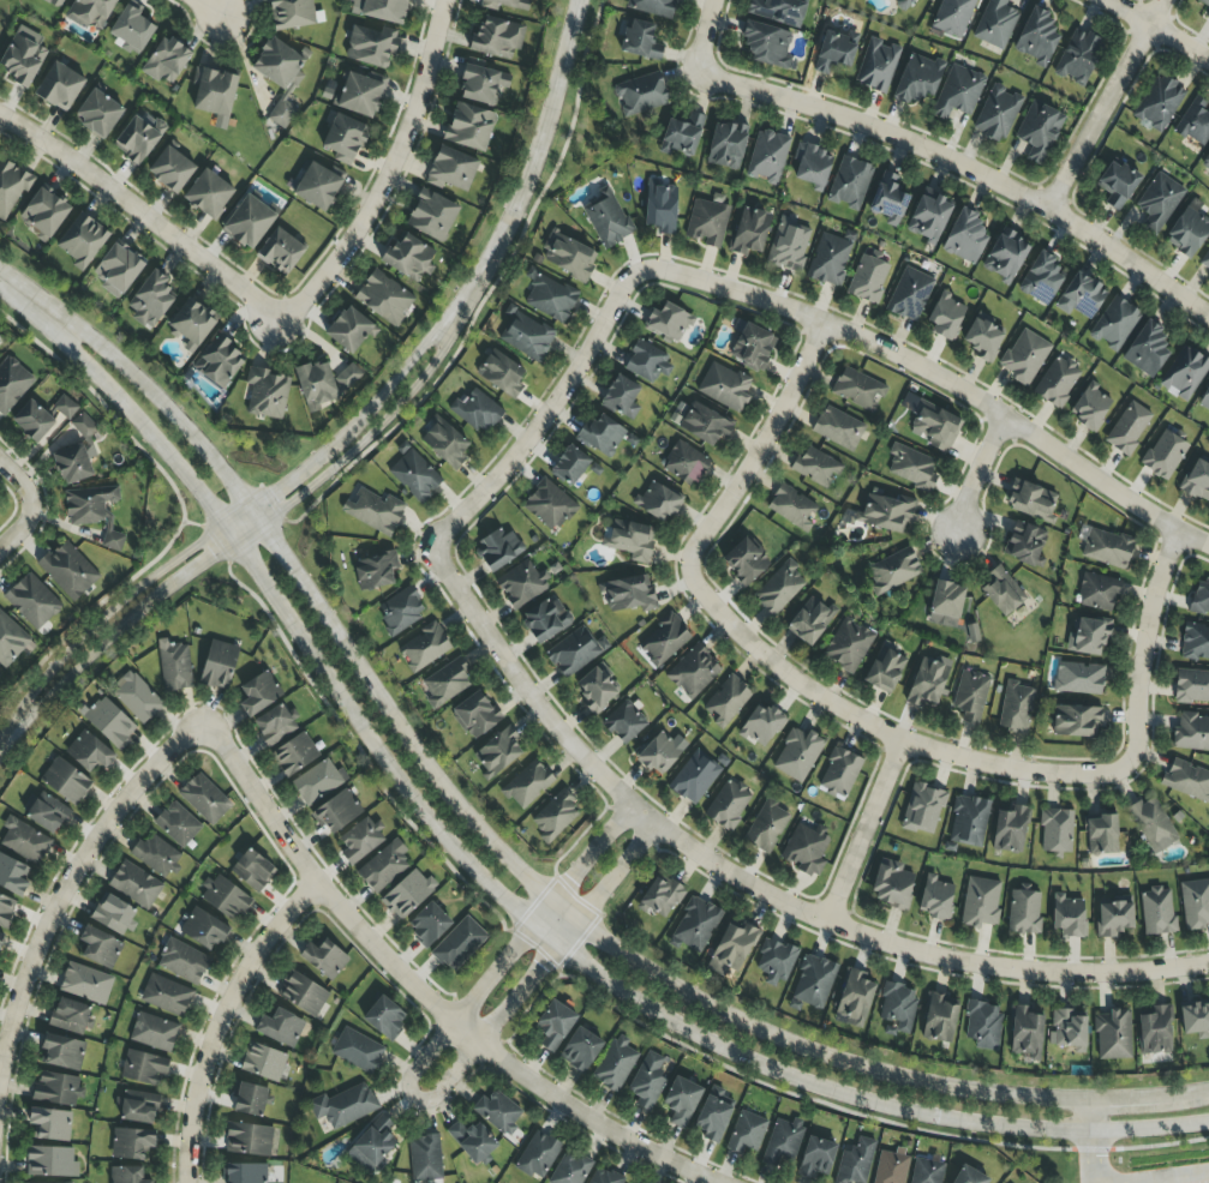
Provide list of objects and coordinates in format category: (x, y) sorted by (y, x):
building: (55, 2)
building: (1204, 2)
building: (904, 4)
road: (209, 7)
building: (653, 7)
building: (381, 10)
building: (779, 11)
building: (90, 13)
building: (292, 13)
building: (1207, 14)
building: (953, 17)
building: (995, 24)
road: (1163, 24)
building: (131, 31)
road: (702, 35)
building: (1037, 37)
building: (497, 38)
building: (640, 41)
building: (371, 46)
building: (768, 46)
building: (836, 50)
building: (23, 56)
building: (1078, 56)
building: (166, 61)
building: (878, 66)
building: (280, 77)
building: (918, 79)
building: (483, 84)
building: (59, 86)
building: (958, 92)
building: (214, 94)
building: (359, 94)
building: (641, 95)
road: (1105, 103)
building: (1159, 103)
building: (98, 113)
building: (996, 113)
building: (1196, 121)
building: (469, 127)
building: (1039, 131)
building: (682, 134)
building: (345, 139)
building: (136, 140)
building: (726, 145)
building: (768, 157)
building: (1205, 164)
road: (533, 166)
building: (810, 166)
road: (964, 168)
building: (172, 169)
building: (451, 169)
road: (393, 180)
building: (850, 184)
building: (1118, 184)
building: (11, 187)
building: (317, 187)
building: (208, 194)
building: (888, 199)
building: (1159, 202)
building: (660, 206)
building: (46, 211)
road: (142, 211)
building: (432, 215)
building: (928, 218)
building: (608, 221)
building: (708, 221)
building: (249, 222)
building: (749, 232)
building: (1187, 233)
building: (965, 236)
building: (82, 240)
building: (789, 245)
building: (281, 251)
building: (569, 256)
building: (1005, 256)
building: (409, 257)
building: (830, 259)
building: (1204, 262)
building: (118, 269)
building: (869, 276)
building: (1041, 278)
building: (910, 294)
road: (24, 296)
building: (551, 296)
building: (1081, 296)
building: (384, 298)
building: (150, 301)
building: (945, 316)
building: (669, 323)
building: (192, 324)
building: (1114, 324)
building: (351, 330)
building: (527, 336)
building: (983, 340)
building: (752, 346)
building: (1147, 349)
building: (1024, 358)
building: (647, 360)
building: (219, 362)
building: (502, 373)
building: (1184, 373)
building: (349, 374)
road: (939, 377)
building: (1057, 382)
building: (12, 384)
building: (317, 385)
building: (725, 388)
building: (858, 390)
building: (265, 394)
building: (622, 397)
building: (1204, 400)
building: (65, 407)
building: (1090, 407)
building: (477, 410)
road: (544, 414)
building: (32, 421)
road: (359, 421)
building: (705, 425)
building: (84, 426)
building: (936, 427)
building: (838, 428)
building: (1129, 428)
building: (600, 436)
road: (761, 440)
building: (445, 443)
building: (1163, 455)
building: (686, 463)
building: (73, 464)
building: (569, 466)
building: (816, 467)
building: (911, 468)
road: (977, 472)
building: (415, 476)
road: (17, 479)
building: (1197, 481)
building: (659, 500)
building: (1029, 502)
building: (89, 504)
building: (549, 505)
building: (792, 508)
building: (375, 511)
building: (886, 512)
road: (19, 528)
road: (246, 532)
building: (110, 534)
building: (629, 540)
building: (1025, 545)
building: (1107, 548)
building: (498, 550)
building: (746, 560)
building: (68, 571)
building: (375, 571)
building: (893, 571)
building: (521, 584)
building: (779, 588)
building: (1001, 593)
building: (1099, 593)
building: (627, 595)
building: (1201, 596)
building: (34, 601)
road: (119, 601)
building: (946, 605)
building: (401, 611)
building: (545, 619)
building: (810, 620)
building: (1088, 637)
building: (664, 639)
building: (12, 642)
building: (1195, 642)
road: (1141, 644)
building: (849, 645)
building: (425, 647)
building: (575, 651)
building: (219, 665)
building: (174, 667)
building: (886, 667)
building: (693, 672)
building: (0, 674)
building: (1079, 678)
building: (928, 680)
building: (447, 683)
building: (1191, 686)
building: (597, 687)
building: (259, 693)
building: (970, 695)
building: (137, 697)
building: (726, 701)
building: (1016, 708)
building: (475, 715)
building: (1076, 721)
building: (110, 722)
building: (624, 722)
building: (274, 725)
road: (873, 725)
building: (762, 726)
road: (6, 731)
building: (1191, 733)
road: (359, 750)
building: (90, 752)
building: (497, 752)
building: (659, 752)
building: (294, 755)
building: (797, 755)
building: (839, 773)
building: (694, 777)
building: (1187, 780)
building: (65, 781)
building: (318, 781)
building: (527, 785)
building: (204, 799)
building: (729, 804)
building: (923, 809)
building: (337, 811)
building: (44, 812)
building: (555, 817)
building: (969, 821)
building: (176, 824)
building: (1153, 824)
building: (767, 827)
building: (1010, 829)
road: (862, 830)
building: (1057, 830)
building: (1101, 834)
building: (24, 841)
building: (360, 841)
building: (807, 847)
building: (156, 855)
building: (384, 866)
building: (252, 870)
building: (13, 875)
road: (70, 876)
road: (523, 876)
building: (134, 884)
building: (892, 885)
road: (752, 888)
building: (407, 894)
building: (223, 897)
building: (660, 897)
building: (935, 899)
building: (980, 902)
building: (1195, 903)
road: (510, 908)
building: (6, 911)
building: (1024, 911)
building: (1157, 912)
building: (114, 914)
building: (1067, 917)
building: (1114, 917)
building: (429, 924)
building: (696, 924)
building: (204, 929)
building: (1, 938)
building: (459, 944)
building: (100, 947)
building: (732, 948)
building: (324, 957)
building: (184, 962)
building: (774, 962)
building: (814, 981)
building: (86, 983)
building: (303, 993)
road: (421, 995)
building: (166, 996)
building: (854, 999)
building: (897, 1008)
building: (71, 1016)
building: (384, 1017)
building: (939, 1019)
building: (1195, 1019)
road: (219, 1020)
building: (553, 1025)
building: (983, 1025)
building: (281, 1028)
building: (1070, 1029)
building: (1154, 1031)
building: (154, 1032)
building: (1025, 1033)
building: (1113, 1035)
building: (580, 1050)
building: (358, 1051)
building: (61, 1052)
building: (264, 1063)
building: (615, 1064)
building: (143, 1068)
building: (648, 1079)
building: (56, 1088)
road: (411, 1095)
building: (250, 1100)
building: (681, 1101)
building: (343, 1106)
building: (137, 1107)
building: (498, 1112)
road: (854, 1116)
building: (713, 1117)
building: (50, 1124)
building: (747, 1133)
building: (249, 1139)
building: (473, 1141)
building: (783, 1141)
road: (1089, 1141)
building: (131, 1143)
building: (372, 1146)
building: (538, 1155)
building: (425, 1158)
building: (816, 1158)
building: (50, 1161)
building: (855, 1163)
building: (891, 1166)
building: (570, 1169)
building: (927, 1171)
building: (245, 1173)
building: (127, 1175)
building: (604, 1176)
building: (969, 1176)
road: (1163, 1177)
building: (58, 1182)

